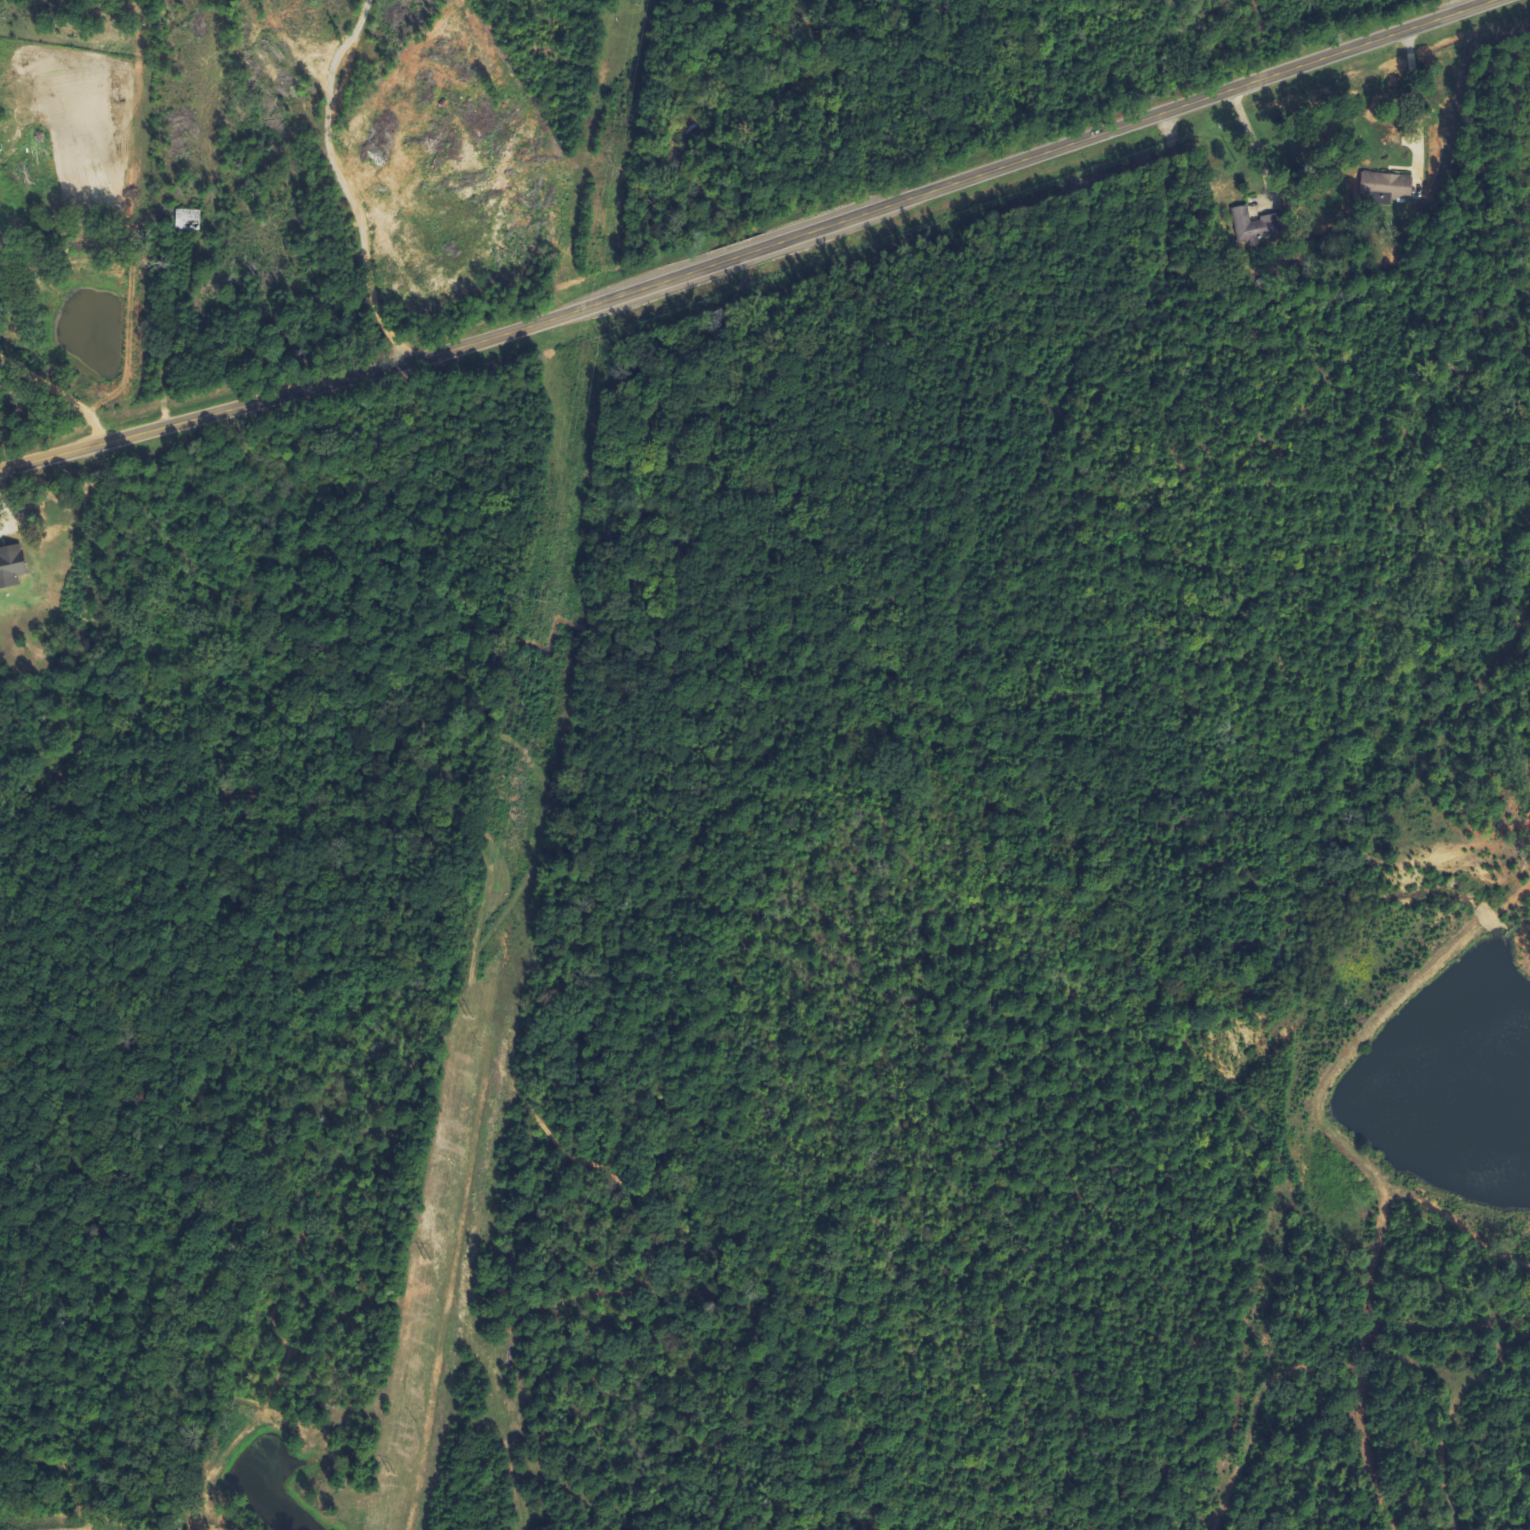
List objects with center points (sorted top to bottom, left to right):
road: (1416, 92)
road: (1132, 122)
building: (1384, 187)
building: (1248, 226)
road: (744, 254)
road: (361, 375)
road: (58, 394)
building: (13, 565)

